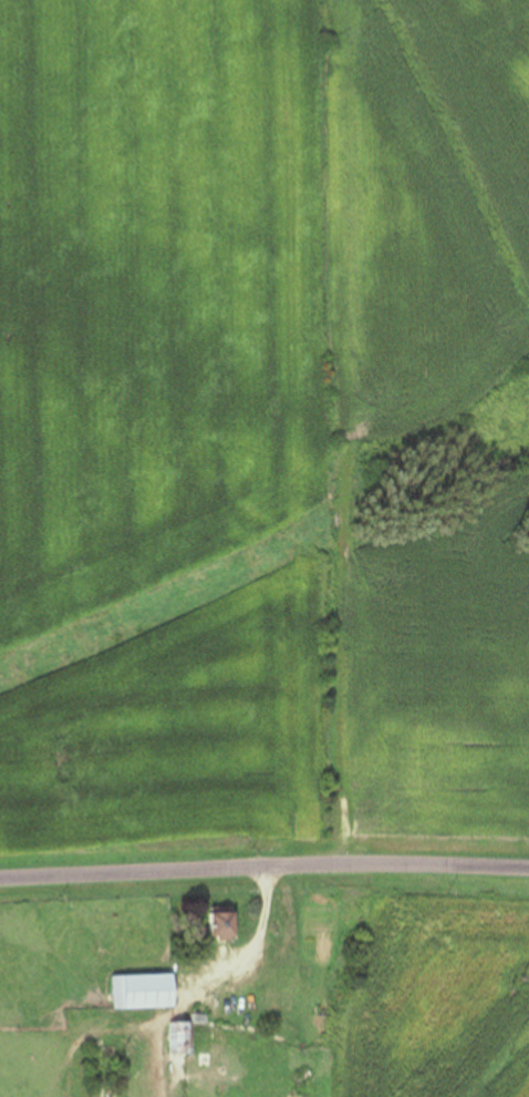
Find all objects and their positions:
road: (263, 869)
building: (225, 926)
road: (253, 949)
building: (147, 992)
building: (181, 1039)

